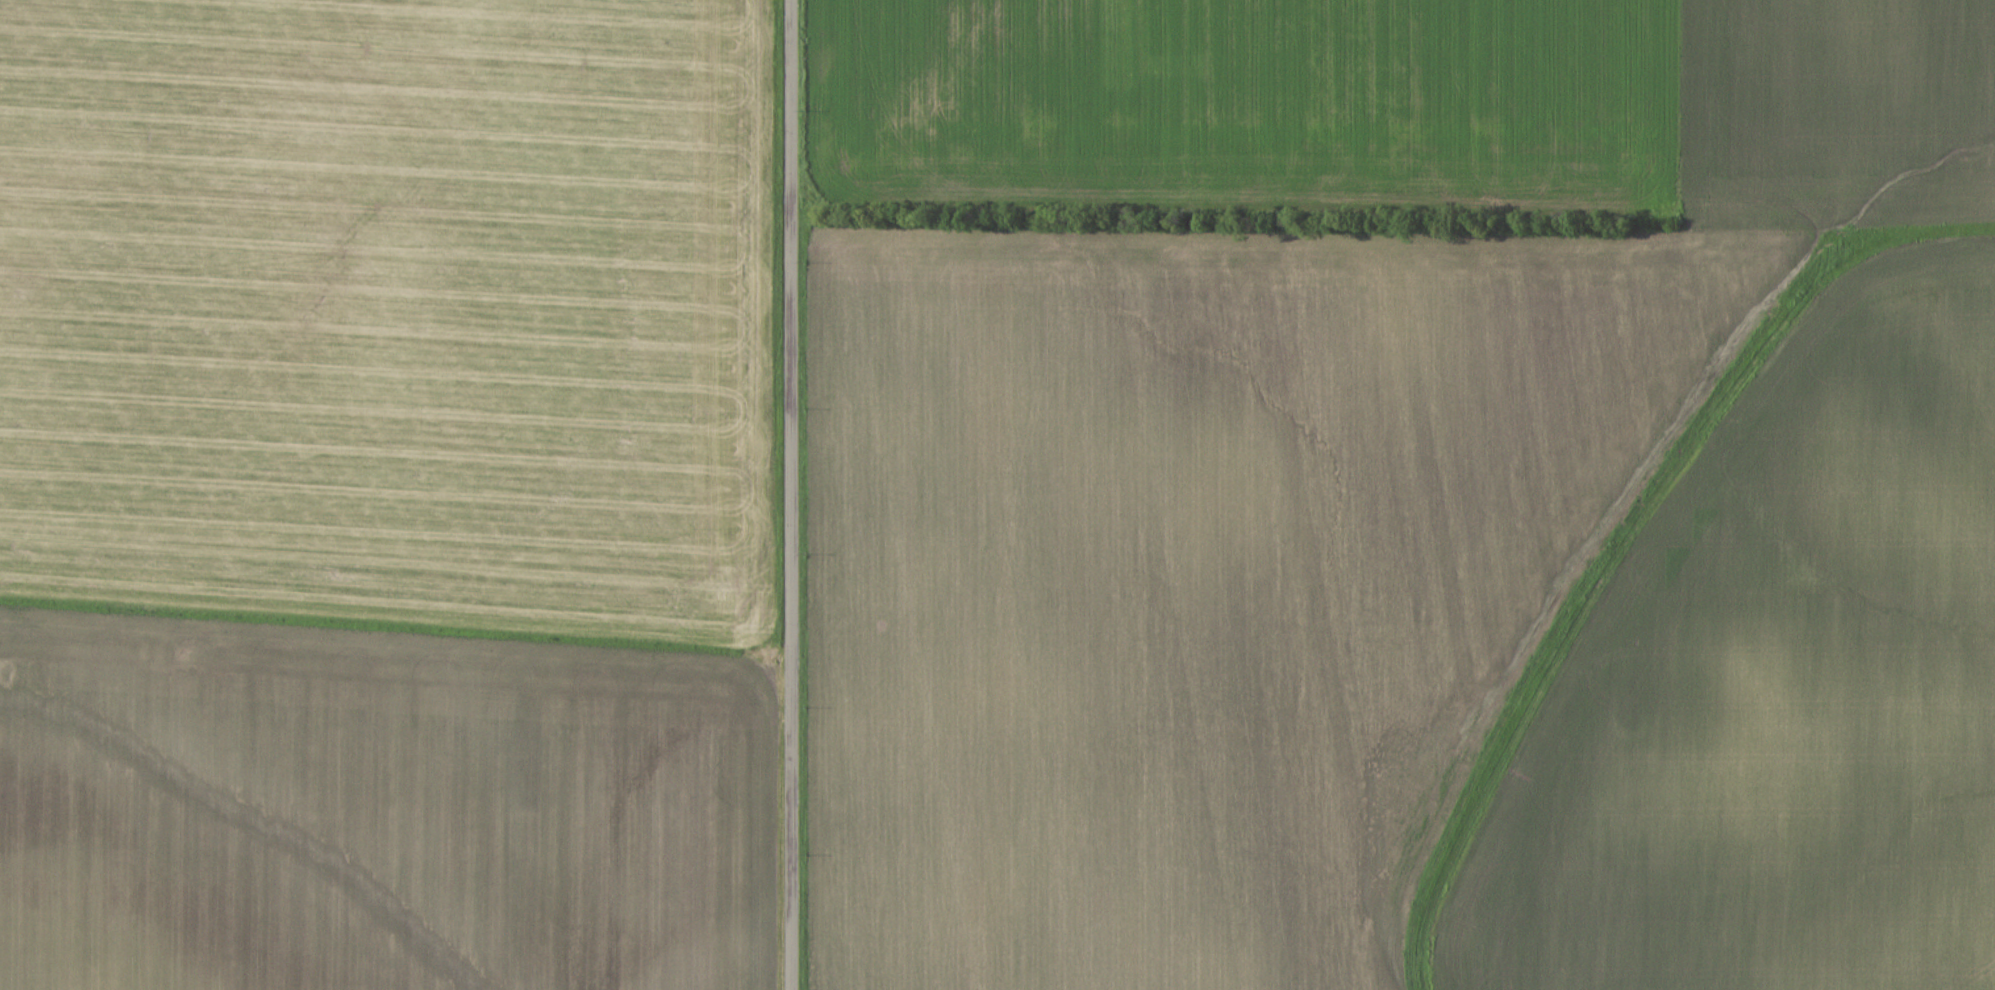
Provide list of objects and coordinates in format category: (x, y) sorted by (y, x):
road: (796, 495)

